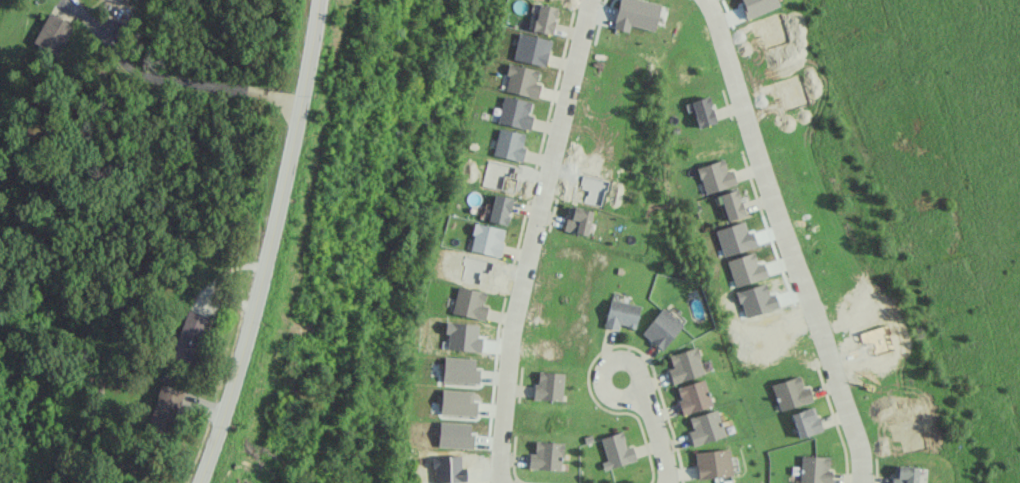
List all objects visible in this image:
building: (121, 1)
building: (762, 6)
building: (635, 15)
building: (541, 19)
building: (53, 33)
building: (528, 49)
building: (518, 81)
road: (192, 83)
building: (707, 112)
building: (512, 113)
building: (506, 144)
building: (721, 176)
building: (738, 205)
building: (497, 209)
building: (578, 220)
road: (532, 239)
road: (791, 239)
building: (484, 240)
road: (270, 244)
building: (467, 304)
building: (624, 315)
building: (667, 328)
building: (189, 337)
building: (690, 365)
building: (457, 370)
road: (641, 370)
building: (550, 386)
building: (792, 393)
building: (699, 397)
building: (455, 403)
building: (164, 410)
building: (806, 422)
building: (710, 428)
road: (664, 438)
building: (621, 451)
building: (548, 456)
building: (717, 463)
building: (814, 469)
building: (902, 474)

